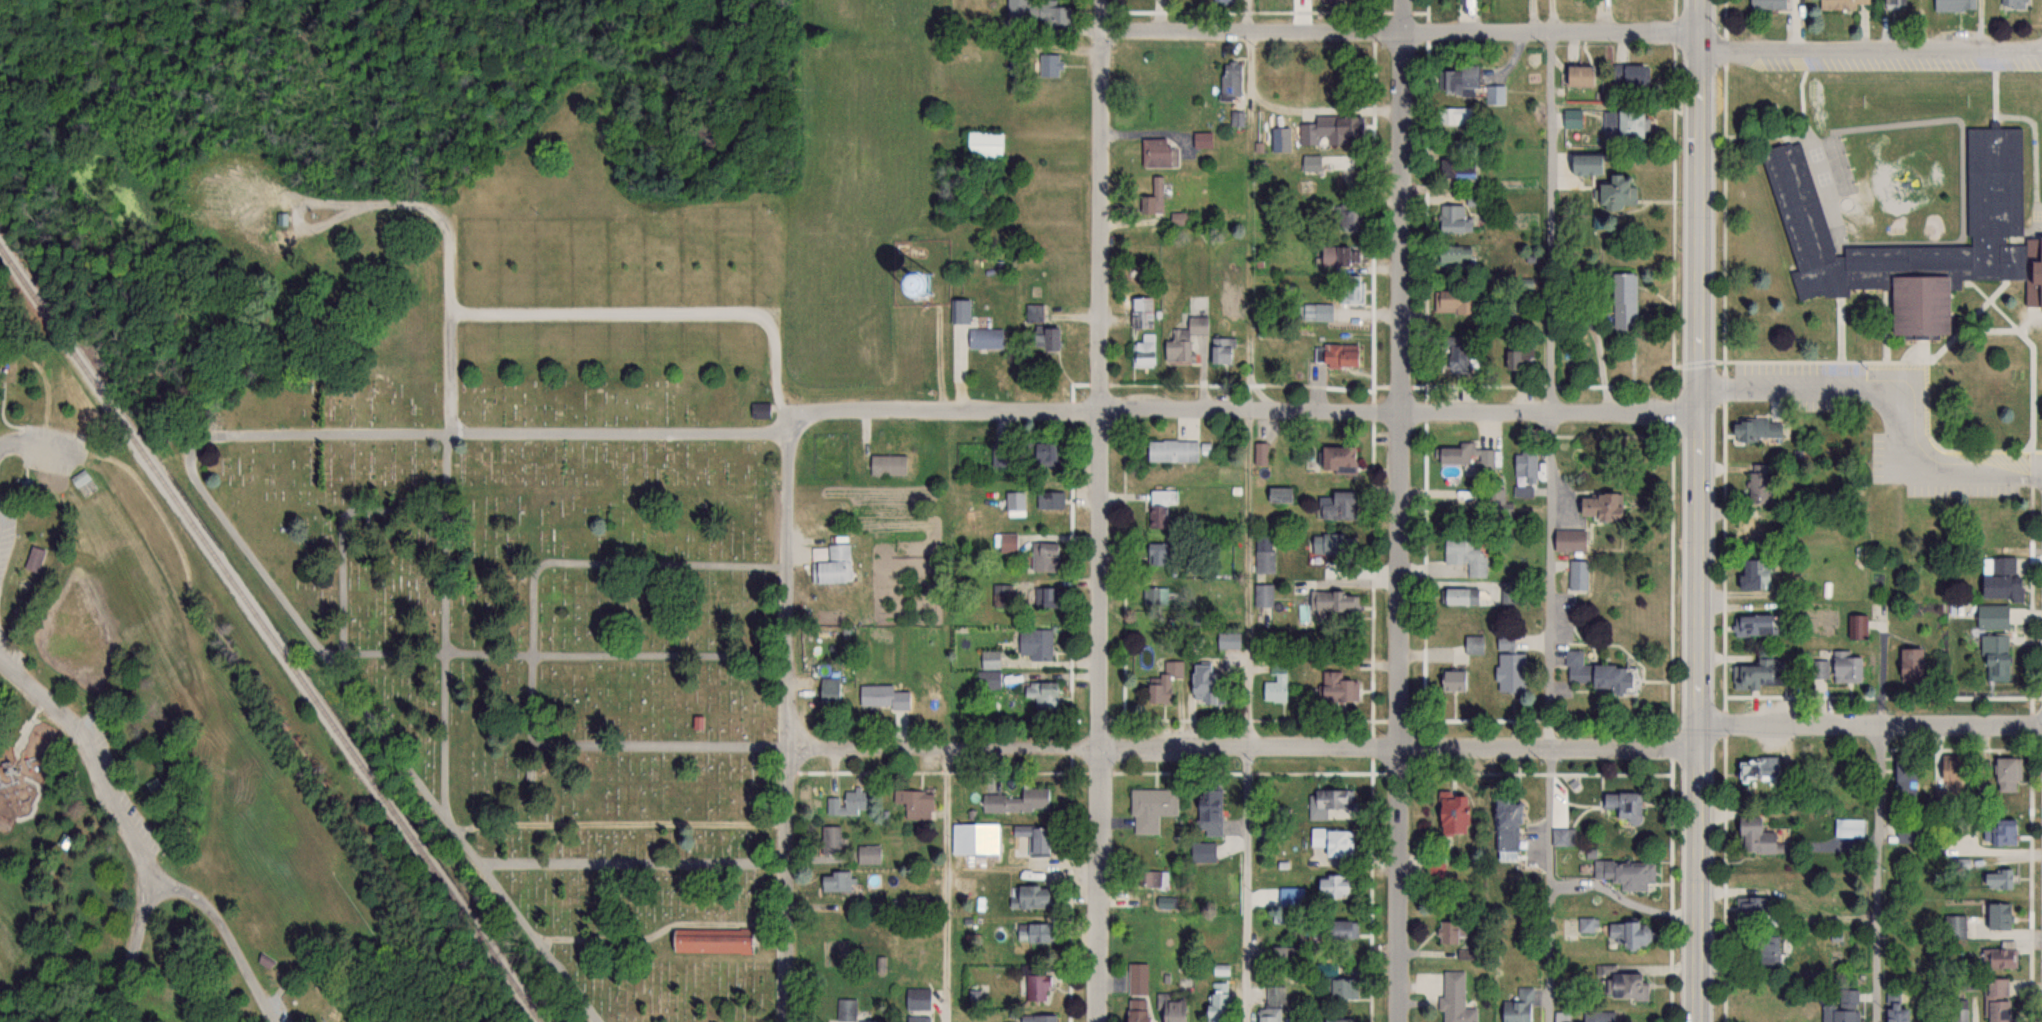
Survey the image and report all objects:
building: (1223, 1)
building: (1893, 2)
building: (2012, 3)
building: (1766, 4)
building: (1843, 4)
building: (1953, 5)
building: (1033, 12)
road: (1400, 32)
road: (1871, 49)
building: (1049, 65)
building: (1626, 74)
building: (1575, 75)
building: (1229, 80)
building: (1455, 81)
building: (1494, 94)
building: (1450, 116)
building: (1626, 123)
building: (1329, 131)
building: (1202, 140)
building: (983, 144)
building: (1154, 152)
building: (1309, 163)
building: (1584, 164)
building: (1453, 167)
building: (1340, 179)
building: (1614, 192)
building: (1993, 197)
building: (1152, 198)
building: (1345, 215)
building: (281, 219)
building: (1448, 219)
building: (1449, 254)
building: (1337, 256)
water tower: (924, 281)
building: (884, 285)
building: (1620, 288)
building: (1350, 289)
building: (1450, 301)
building: (1316, 311)
road: (667, 312)
building: (959, 312)
building: (1141, 312)
building: (985, 338)
building: (1043, 340)
building: (1185, 340)
building: (1143, 351)
building: (1221, 351)
building: (1449, 353)
building: (1336, 356)
building: (1517, 358)
road: (451, 378)
road: (1889, 402)
road: (1248, 409)
building: (760, 410)
building: (1755, 430)
parking lot: (54, 434)
road: (41, 448)
building: (1172, 451)
building: (1260, 453)
building: (1040, 454)
building: (1456, 454)
building: (1336, 460)
building: (1489, 461)
parking lot: (51, 465)
building: (888, 465)
building: (1524, 468)
building: (83, 477)
building: (28, 483)
building: (1756, 487)
building: (1278, 495)
building: (1050, 500)
building: (1497, 504)
building: (1334, 506)
building: (1594, 507)
building: (1161, 508)
road: (1100, 510)
road: (1401, 510)
road: (1701, 511)
building: (1999, 529)
building: (1746, 532)
park: (524, 538)
building: (1569, 540)
building: (1007, 543)
building: (1332, 546)
building: (1156, 554)
building: (1264, 554)
building: (1465, 556)
building: (1043, 557)
building: (37, 558)
building: (832, 566)
building: (1753, 574)
building: (1577, 576)
building: (1997, 577)
parking lot: (3, 579)
road: (1249, 579)
road: (1541, 580)
building: (1002, 594)
building: (1156, 596)
building: (1263, 596)
building: (1459, 596)
building: (1044, 601)
building: (1334, 602)
building: (1991, 616)
building: (1751, 625)
building: (1856, 626)
railway: (270, 633)
building: (1228, 640)
building: (1036, 644)
building: (1473, 645)
building: (1996, 656)
building: (990, 657)
building: (1908, 661)
building: (1837, 667)
building: (1597, 675)
building: (1753, 675)
building: (988, 680)
building: (1452, 681)
building: (1163, 683)
building: (1205, 684)
building: (1276, 688)
building: (1337, 688)
building: (827, 689)
building: (1042, 694)
building: (882, 697)
road: (788, 720)
road: (1872, 724)
road: (88, 741)
road: (1245, 747)
building: (1754, 768)
building: (1950, 768)
park: (174, 770)
building: (2006, 774)
parking lot: (122, 787)
building: (1018, 802)
building: (847, 804)
building: (913, 804)
building: (1329, 805)
building: (1621, 805)
building: (1144, 811)
building: (1208, 812)
building: (1450, 814)
building: (1849, 826)
building: (1504, 831)
building: (2002, 833)
building: (1752, 836)
building: (1562, 837)
building: (973, 840)
building: (1038, 840)
building: (830, 841)
building: (1331, 842)
building: (1202, 852)
building: (868, 853)
road: (157, 873)
building: (1625, 873)
road: (146, 879)
building: (1150, 880)
building: (1997, 880)
building: (836, 882)
road: (1236, 884)
building: (1330, 887)
road: (159, 893)
building: (1028, 898)
building: (1166, 902)
building: (1749, 907)
building: (1997, 917)
building: (1588, 925)
building: (1955, 927)
building: (1340, 931)
building: (1034, 933)
building: (1446, 933)
building: (1627, 935)
building: (710, 941)
road: (241, 945)
building: (1761, 949)
building: (1999, 958)
road: (131, 964)
building: (1137, 979)
building: (1625, 986)
building: (1036, 987)
building: (1995, 988)
building: (1339, 989)
building: (918, 999)
building: (1454, 999)
building: (1216, 1000)
building: (1272, 1006)
building: (1845, 1006)
building: (1517, 1007)
building: (1171, 1009)
building: (847, 1010)
building: (1135, 1010)
building: (1957, 1010)
building: (1996, 1011)
building: (1894, 1013)
building: (1596, 1016)
building: (918, 1018)
building: (1036, 1018)
building: (1334, 1021)

